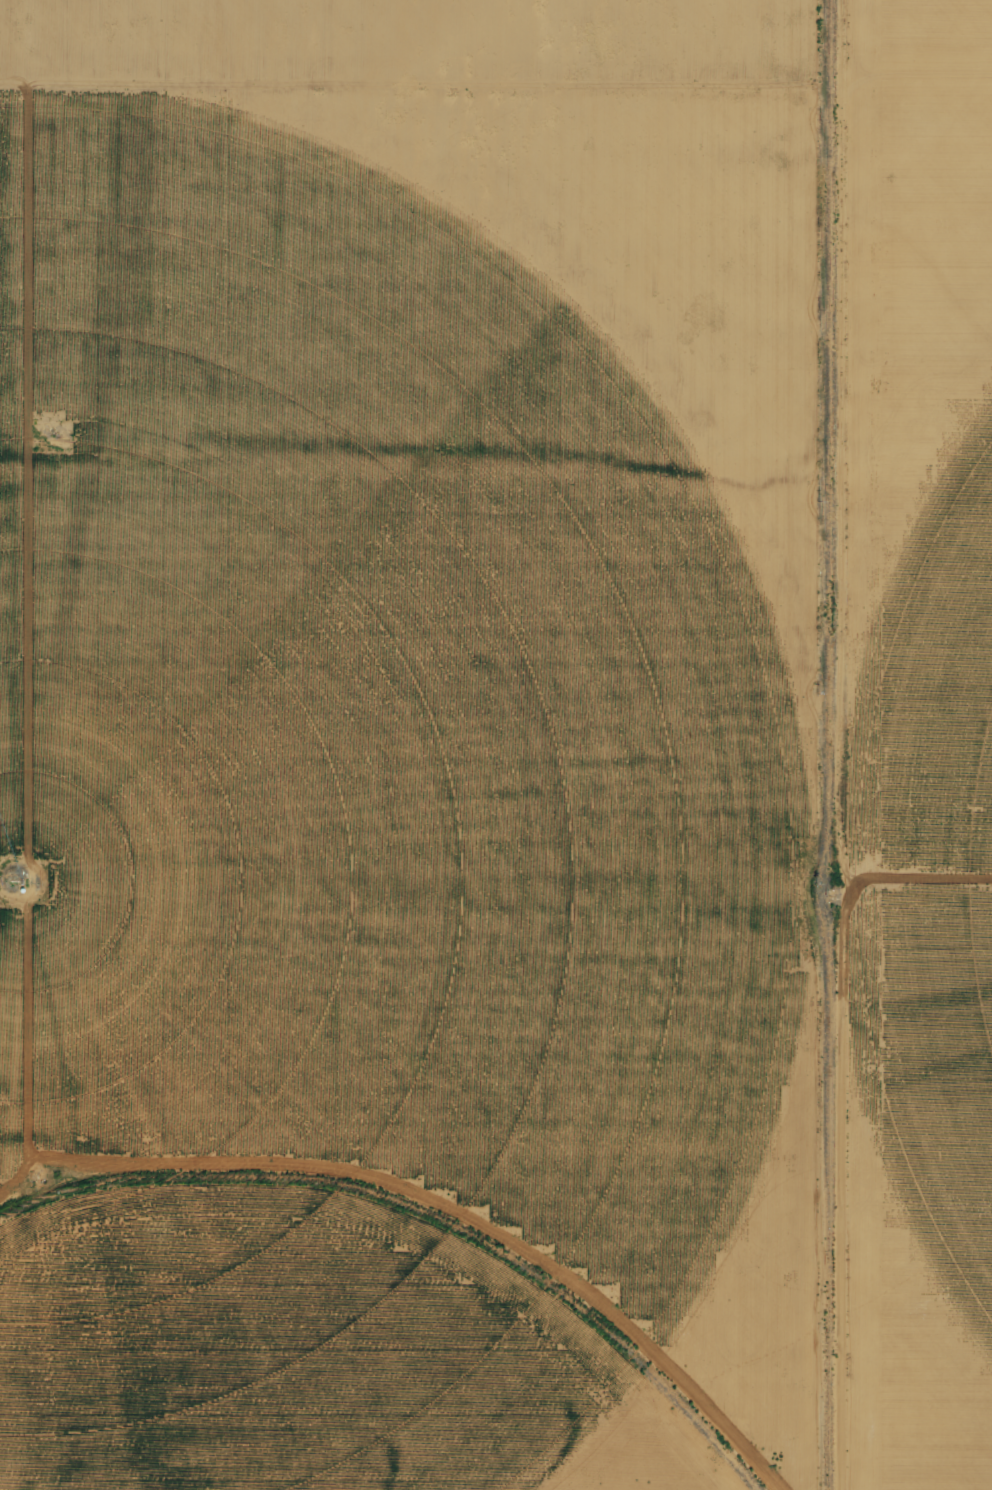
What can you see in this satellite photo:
road: (826, 745)

